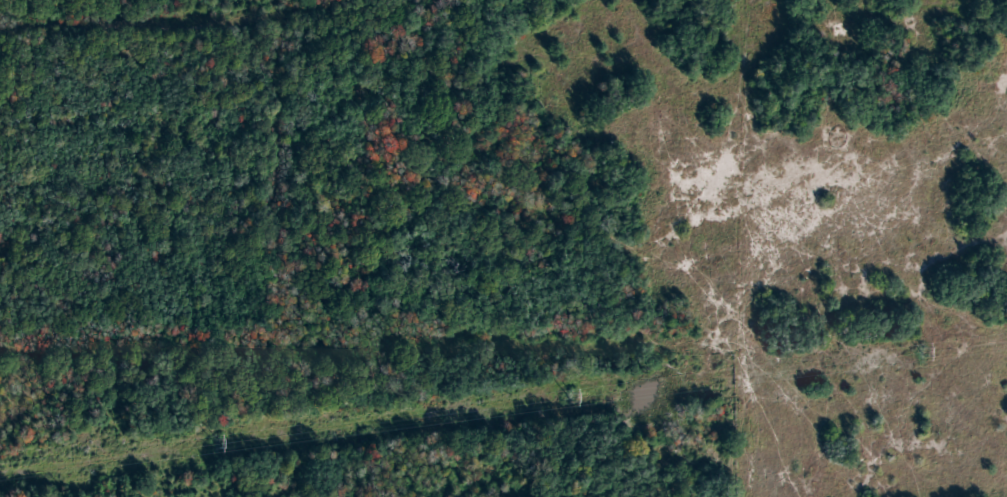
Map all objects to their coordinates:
power tower: (923, 351)
power tower: (572, 397)
power tower: (218, 442)

